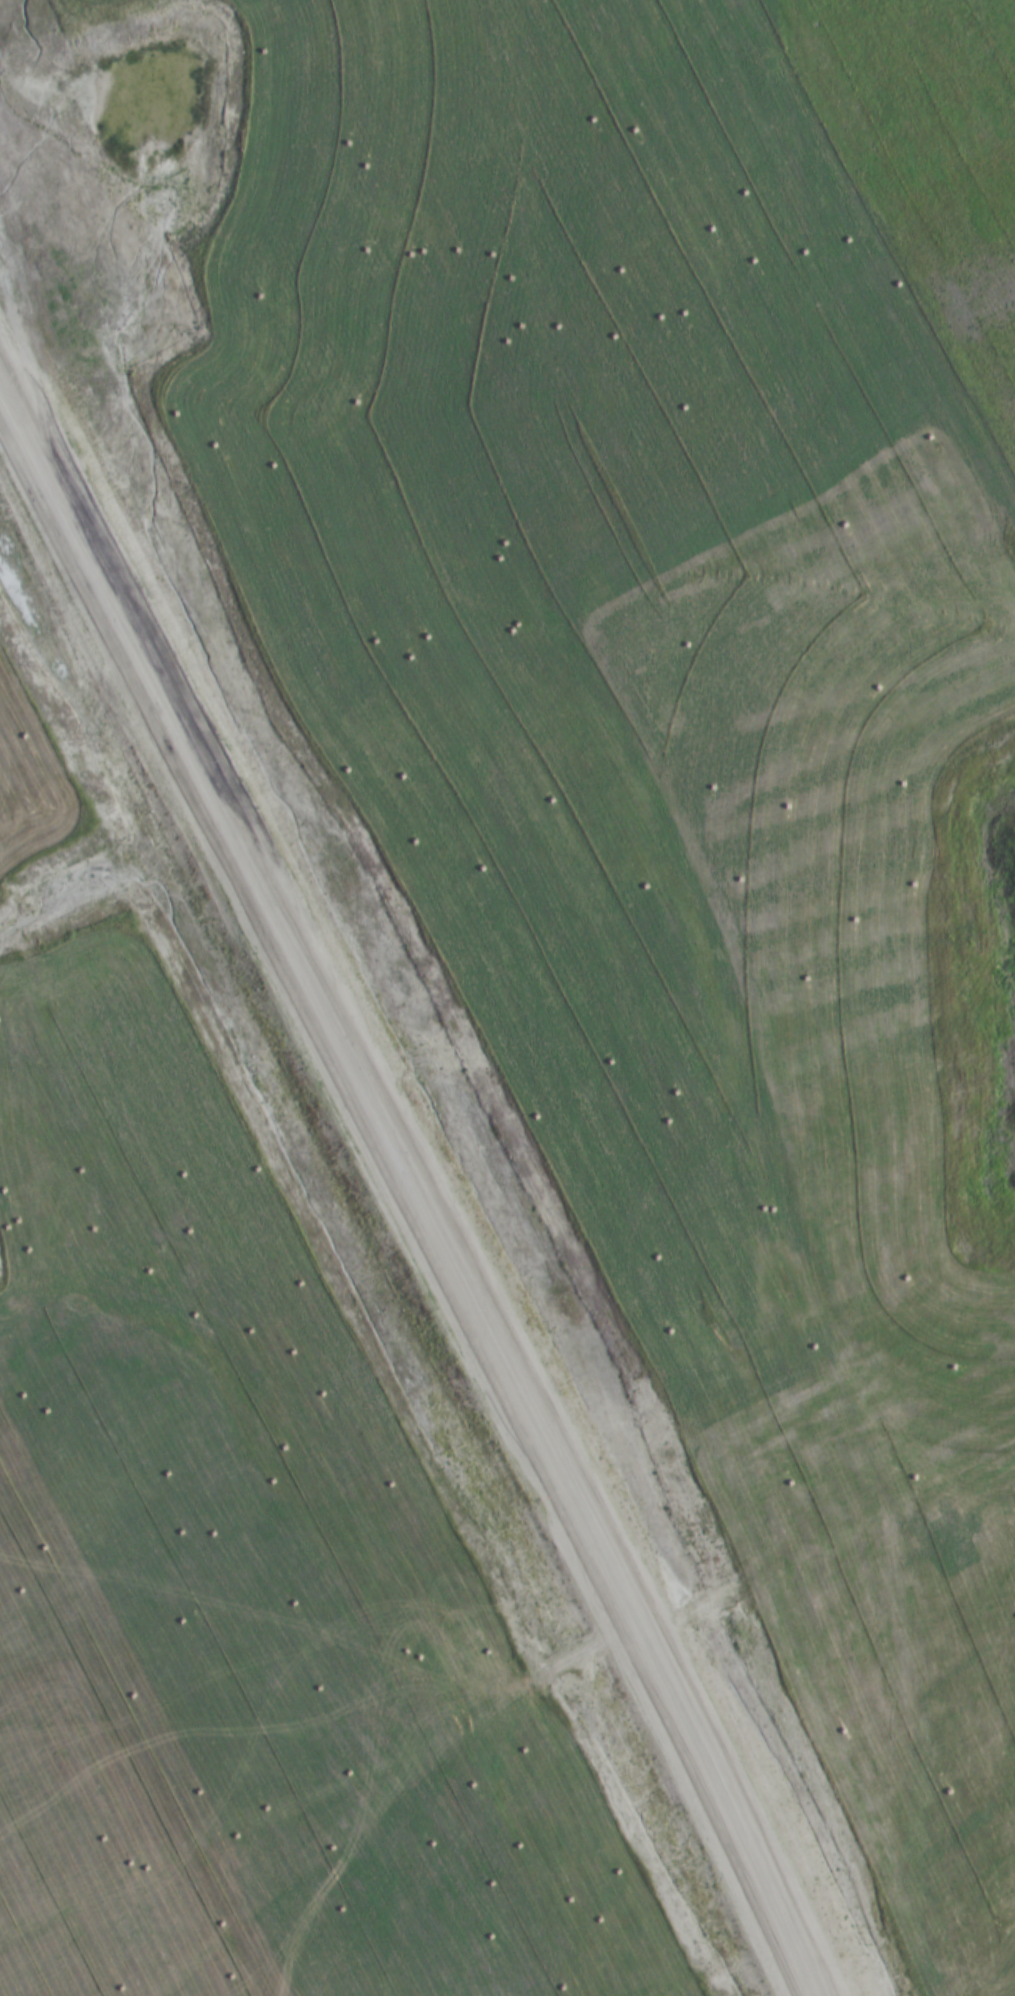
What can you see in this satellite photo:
quarry: (1002, 1969)

